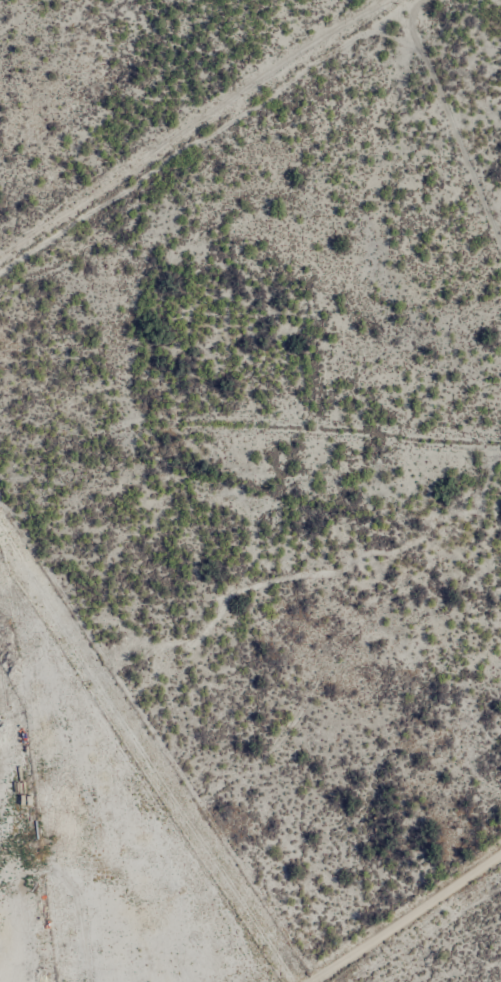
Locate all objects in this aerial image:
road: (391, 912)

